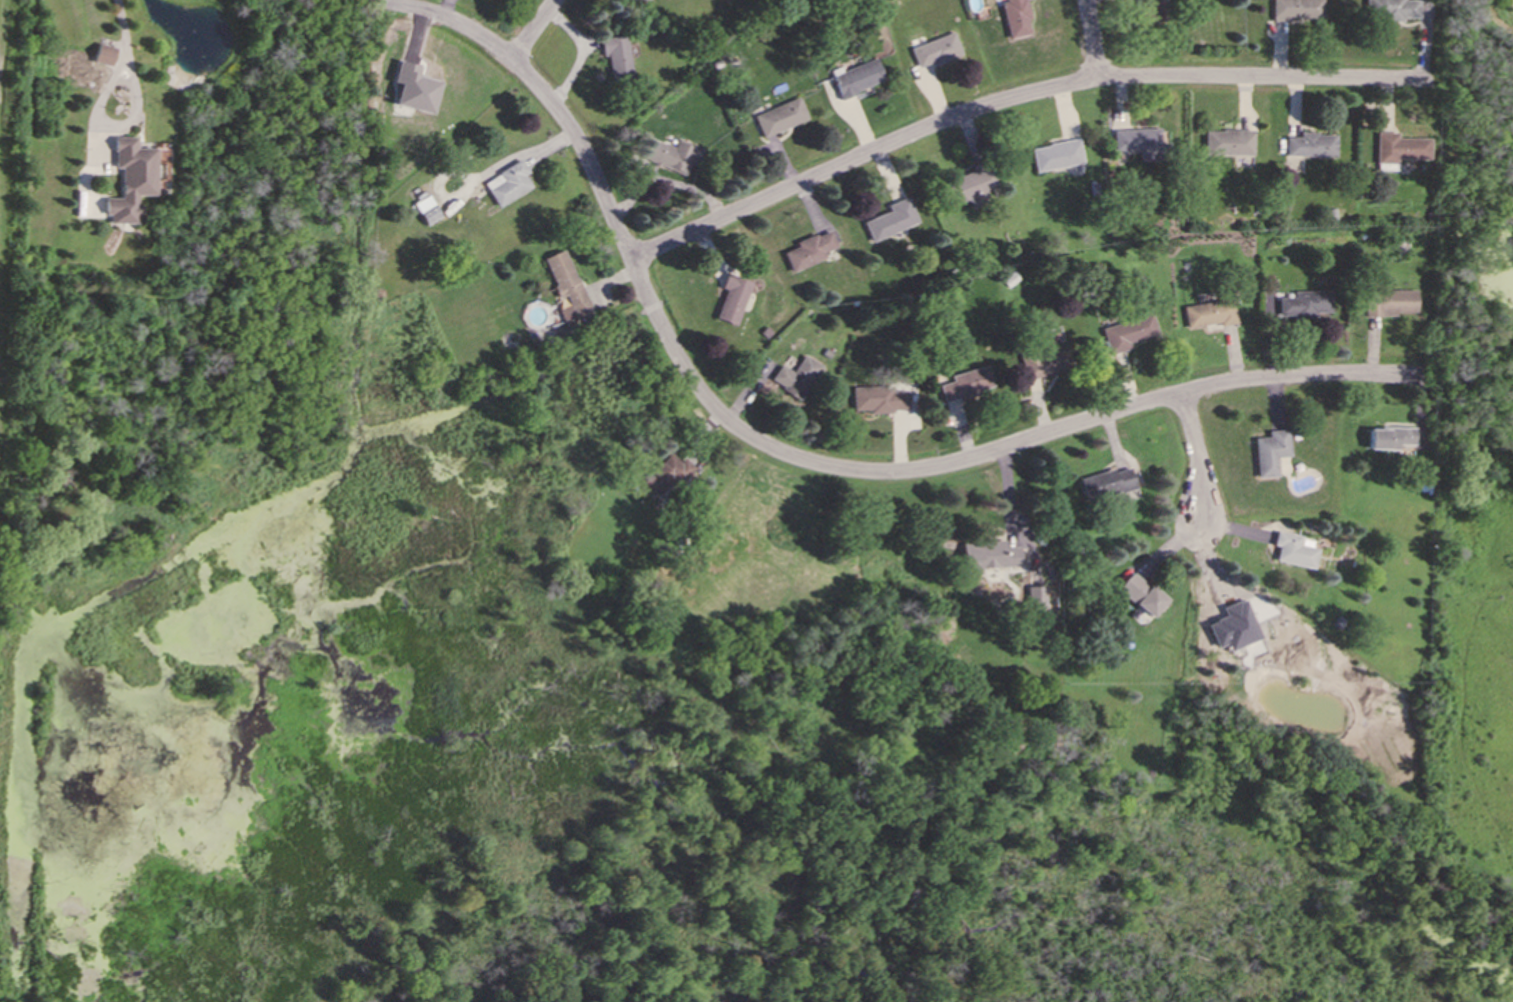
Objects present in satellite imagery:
road: (442, 8)
building: (1154, 8)
building: (1295, 9)
building: (1390, 9)
building: (1014, 17)
road: (123, 23)
road: (532, 30)
road: (1092, 39)
building: (934, 50)
building: (103, 53)
building: (615, 54)
building: (856, 77)
building: (413, 87)
road: (1016, 98)
building: (779, 116)
road: (111, 124)
building: (1139, 141)
building: (1227, 142)
building: (1310, 144)
building: (1398, 148)
building: (671, 154)
building: (1056, 154)
building: (129, 179)
building: (506, 183)
building: (971, 184)
building: (426, 209)
building: (890, 218)
building: (808, 250)
building: (566, 286)
building: (732, 297)
building: (1389, 302)
building: (1303, 303)
building: (1208, 313)
building: (1126, 332)
building: (1045, 358)
building: (796, 376)
building: (965, 383)
building: (878, 398)
building: (1388, 437)
building: (1269, 451)
road: (791, 457)
road: (1197, 459)
building: (665, 474)
building: (1105, 482)
building: (1292, 549)
building: (986, 555)
building: (1139, 594)
building: (1034, 597)
building: (1232, 625)

